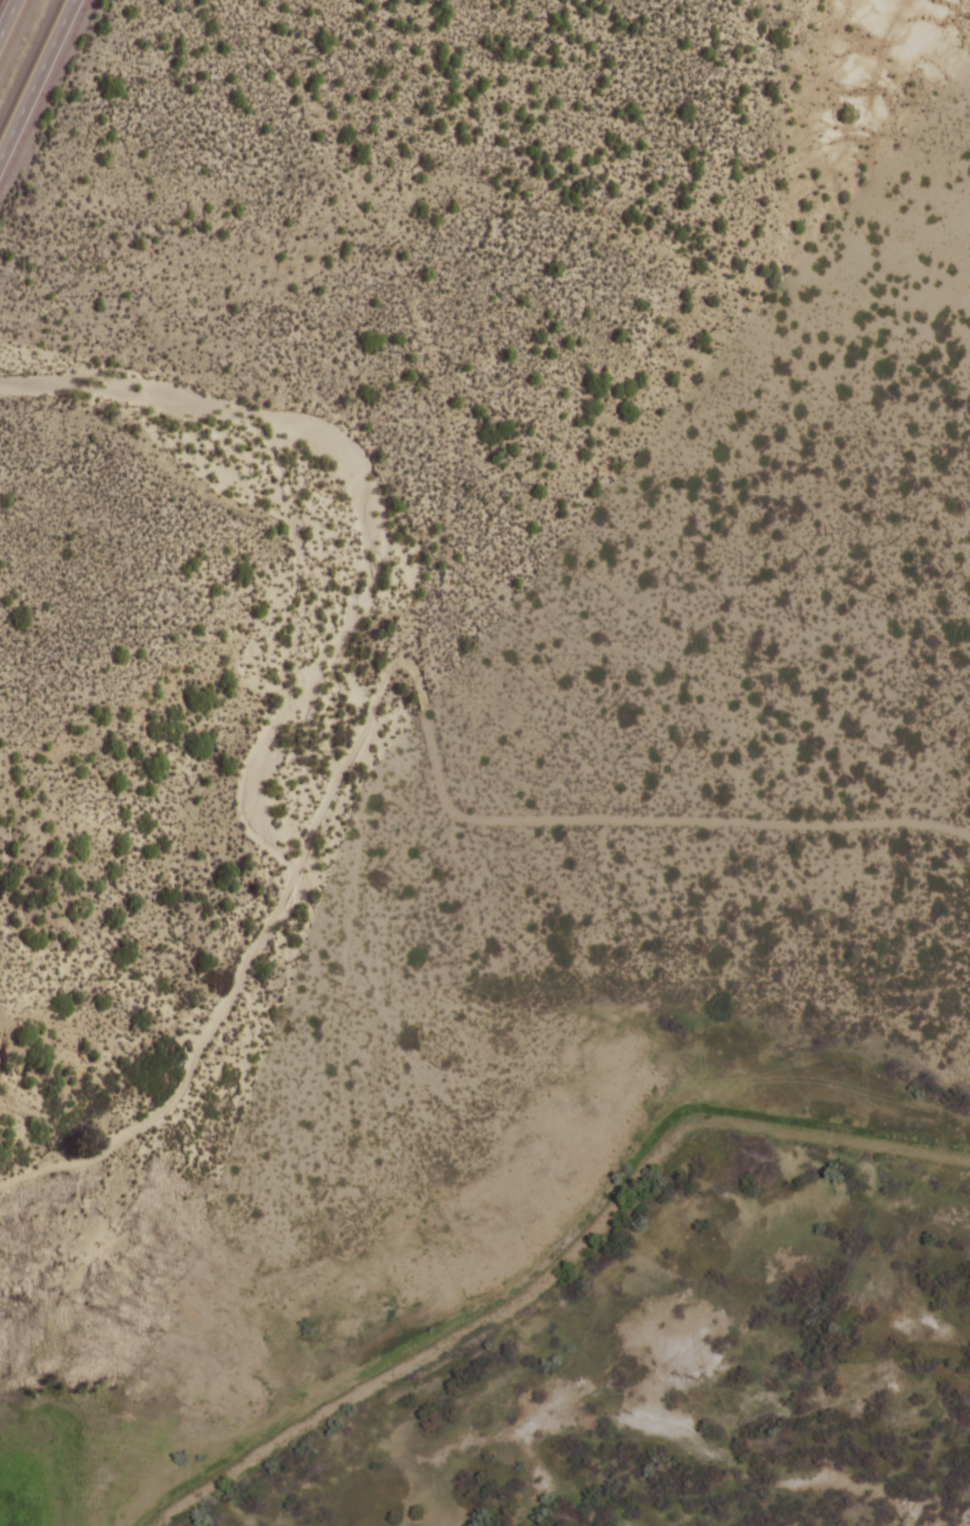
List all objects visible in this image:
road: (7, 16)
road: (36, 79)
road: (414, 318)
road: (341, 766)
river: (251, 772)
road: (619, 819)
road: (227, 999)
road: (71, 1162)
road: (559, 1268)

